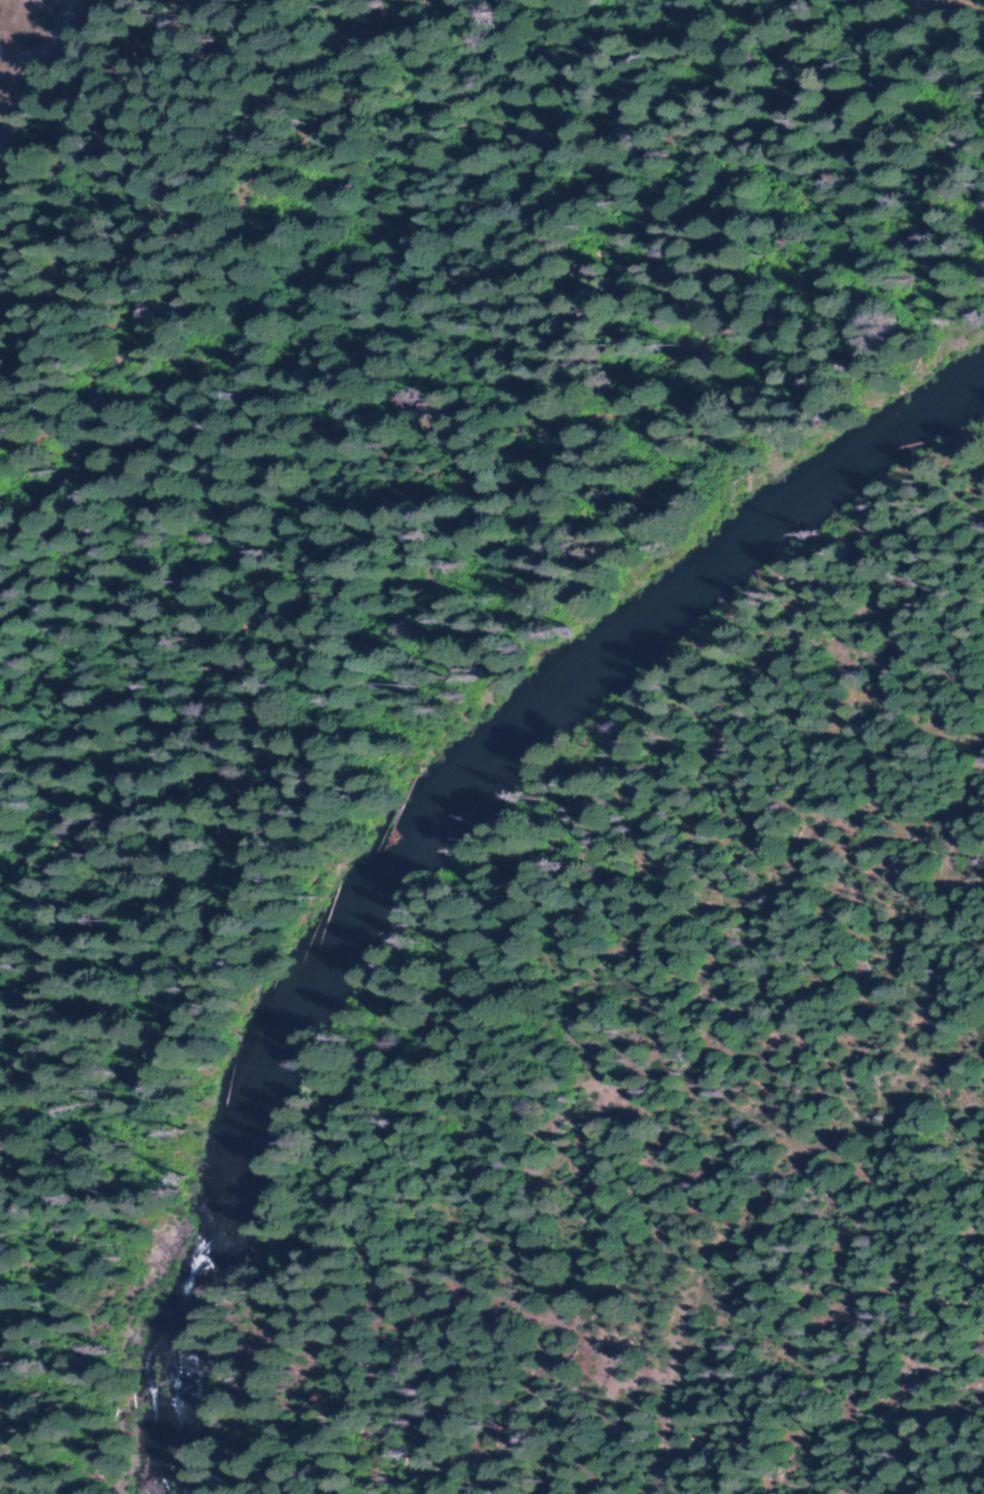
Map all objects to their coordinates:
road: (48, 44)
road: (21, 88)
river: (436, 847)
road: (478, 886)
road: (744, 1207)

